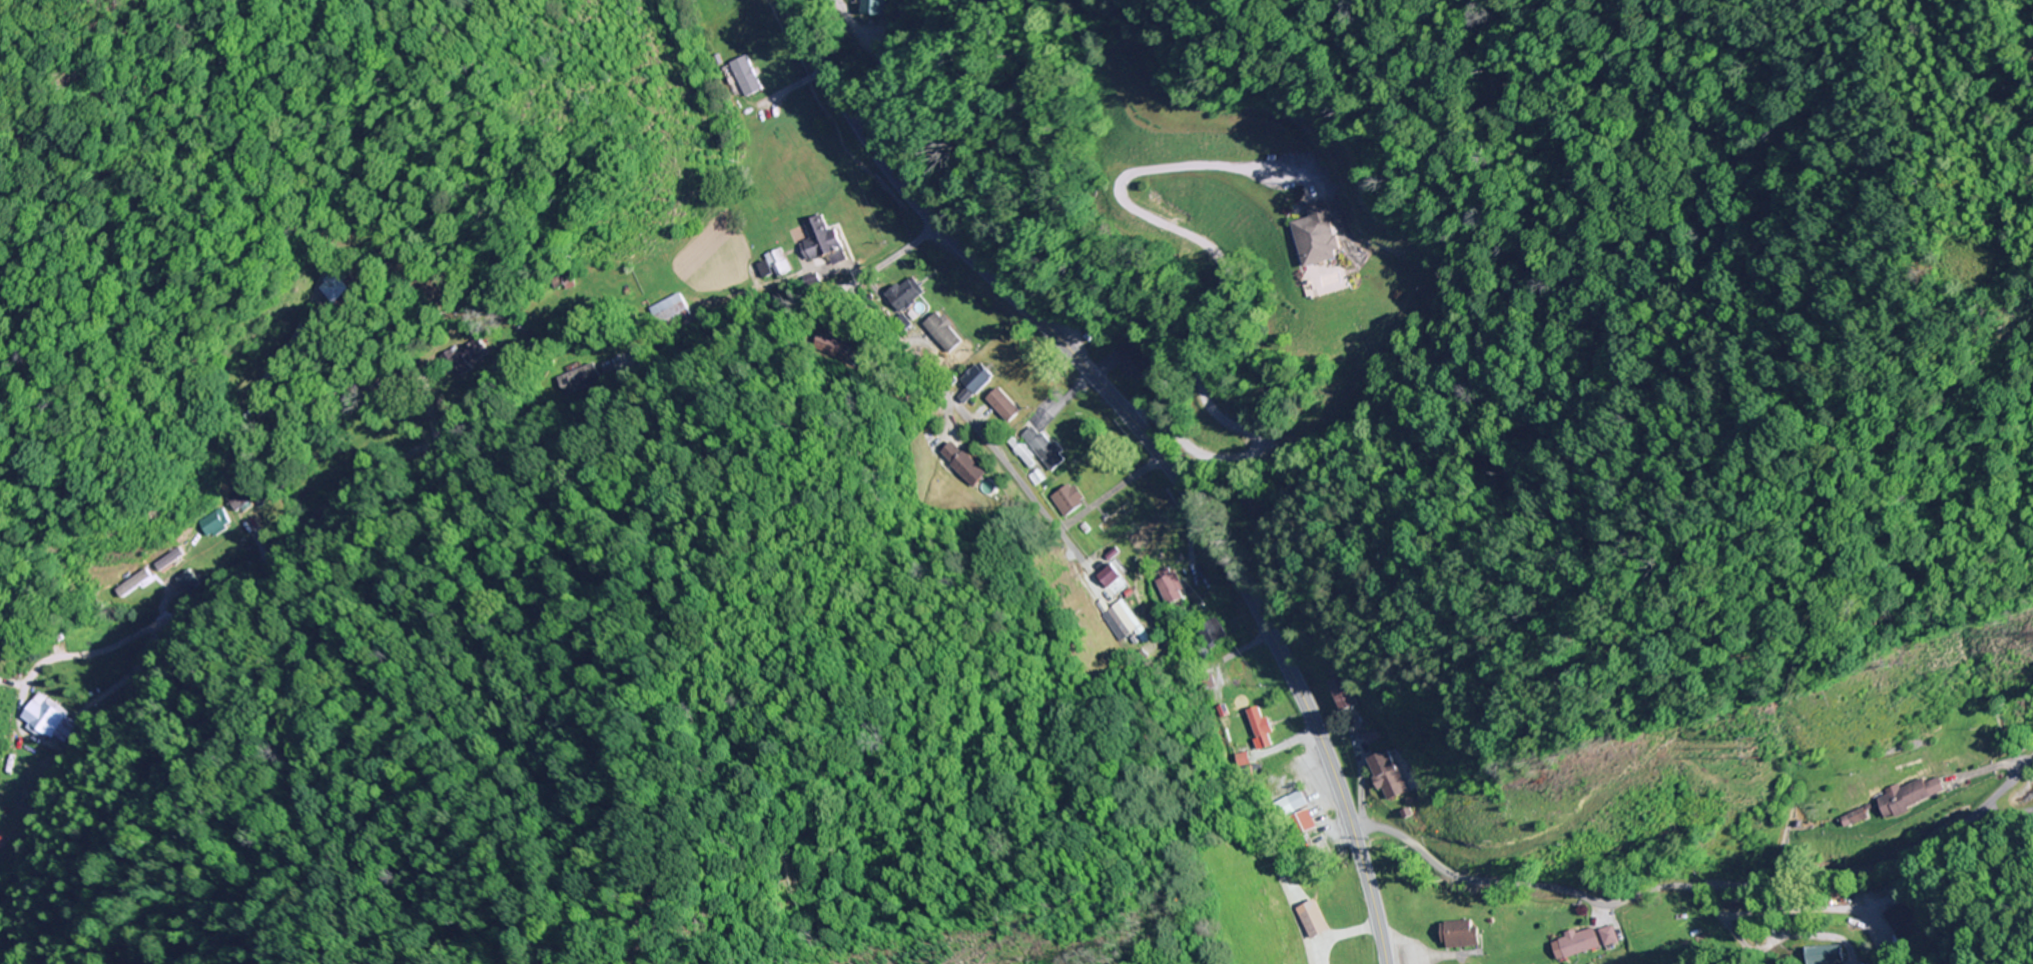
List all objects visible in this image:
building: (874, 7)
building: (1317, 235)
building: (820, 239)
building: (775, 265)
building: (337, 287)
building: (672, 315)
building: (940, 329)
building: (1133, 360)
building: (977, 379)
building: (580, 380)
road: (899, 381)
road: (538, 429)
road: (1150, 444)
building: (1044, 448)
building: (243, 498)
building: (1118, 516)
building: (214, 523)
building: (133, 580)
building: (188, 581)
building: (1118, 585)
building: (1170, 589)
building: (1119, 623)
building: (1214, 633)
building: (1341, 691)
building: (51, 720)
building: (1262, 728)
building: (1388, 777)
building: (1912, 796)
building: (1292, 805)
building: (1856, 819)
building: (1, 840)
building: (1318, 850)
road: (1698, 901)
building: (1902, 917)
building: (1313, 920)
building: (1461, 935)
building: (1589, 941)
building: (1826, 955)

